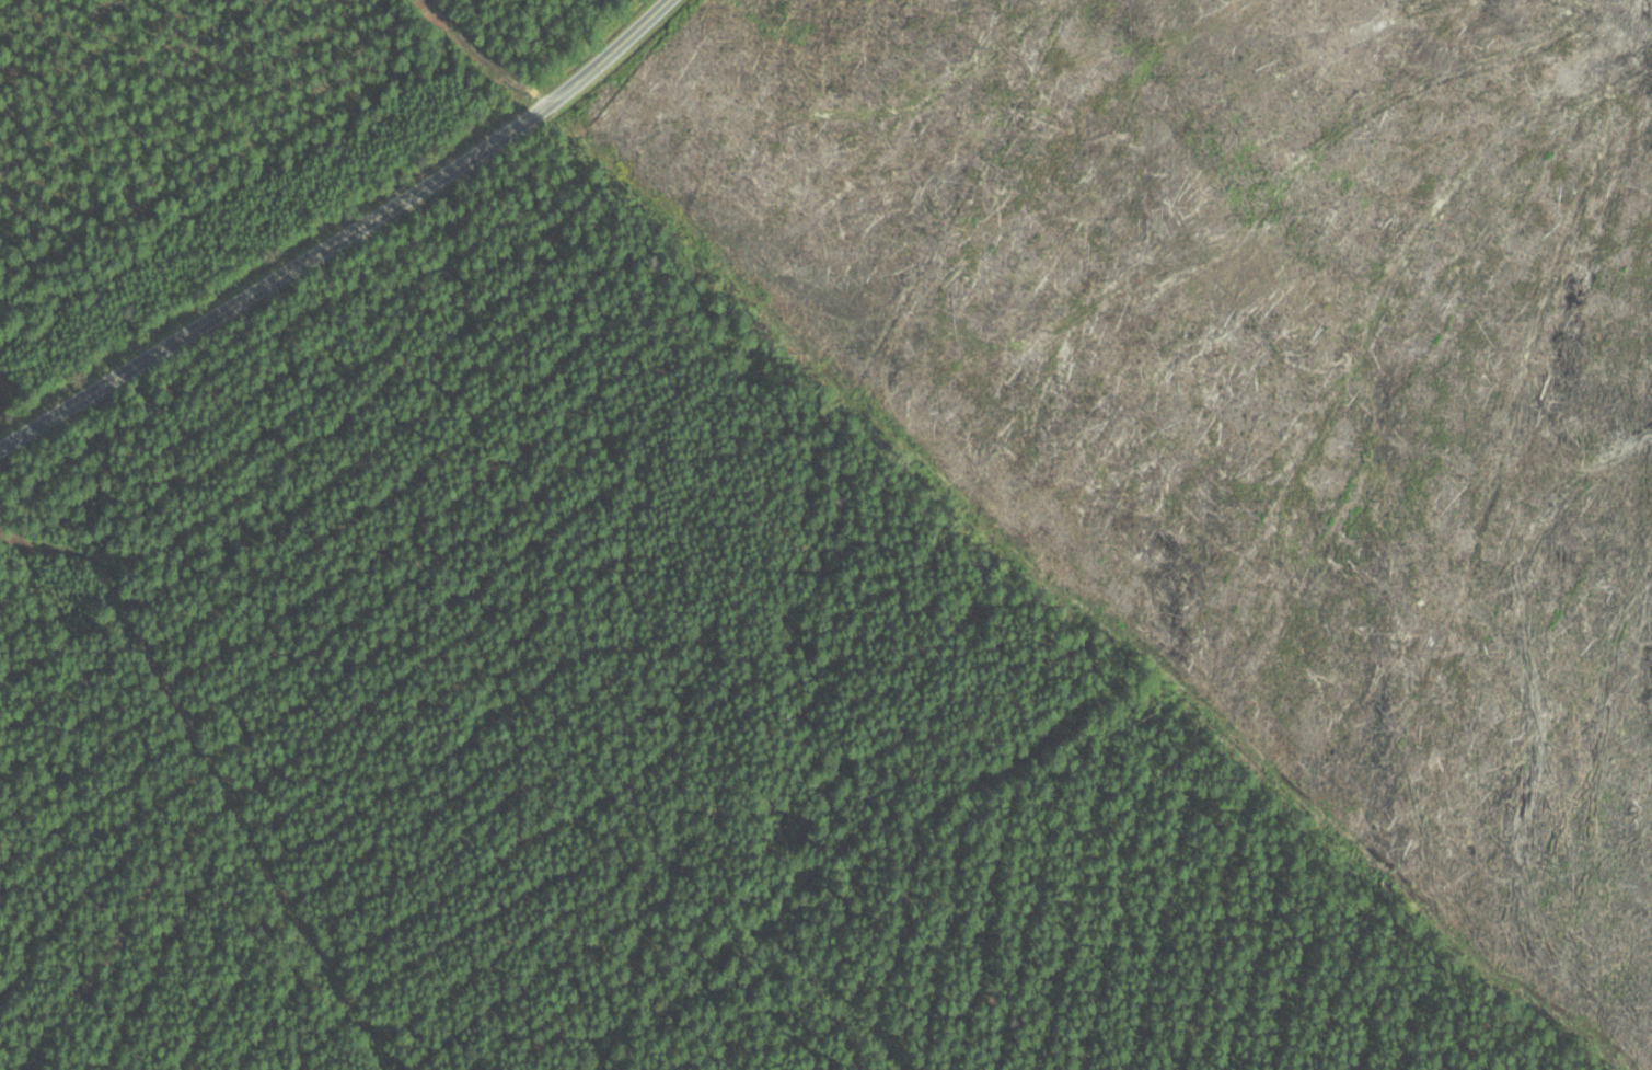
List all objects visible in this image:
road: (342, 239)

